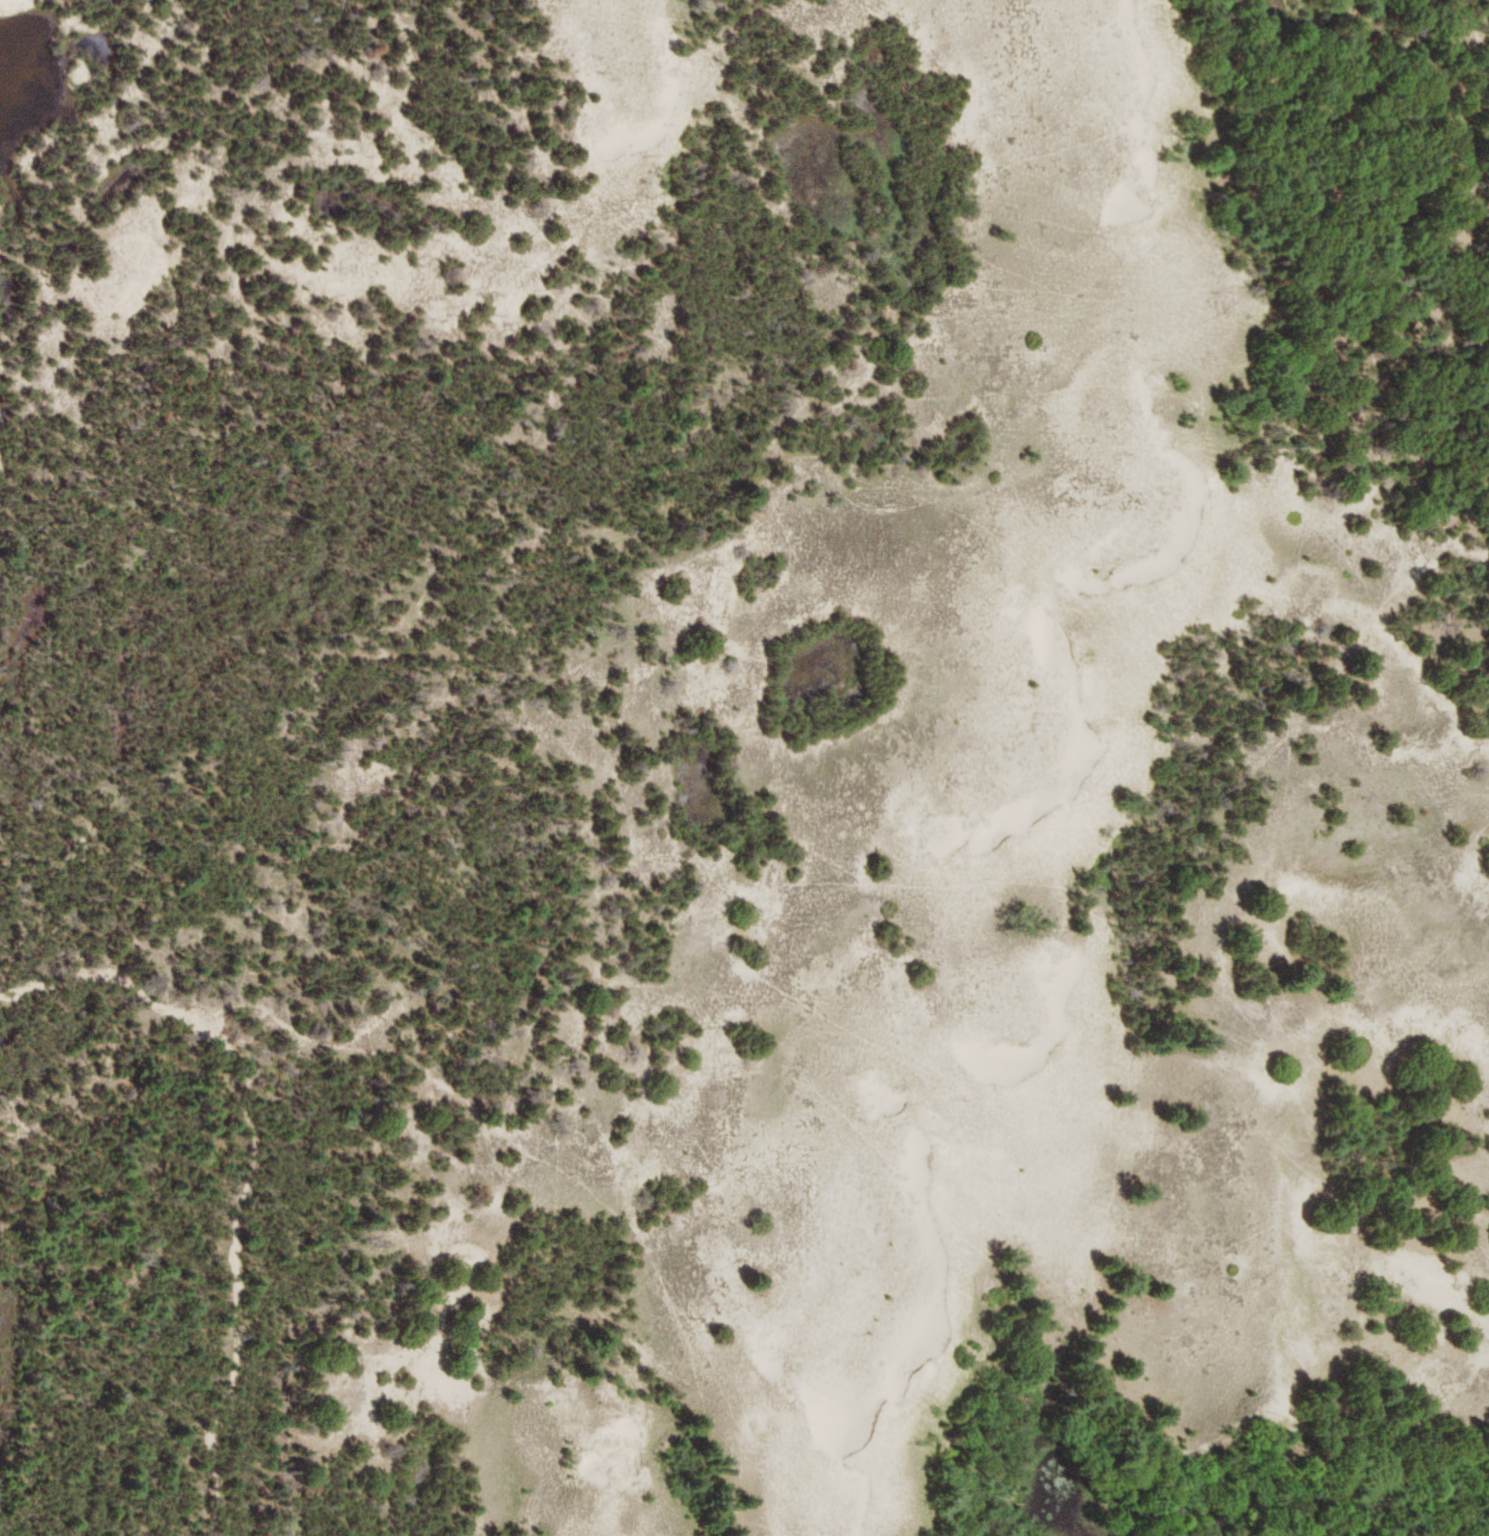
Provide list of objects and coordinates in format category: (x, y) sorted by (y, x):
park: (744, 768)
road: (253, 1165)

